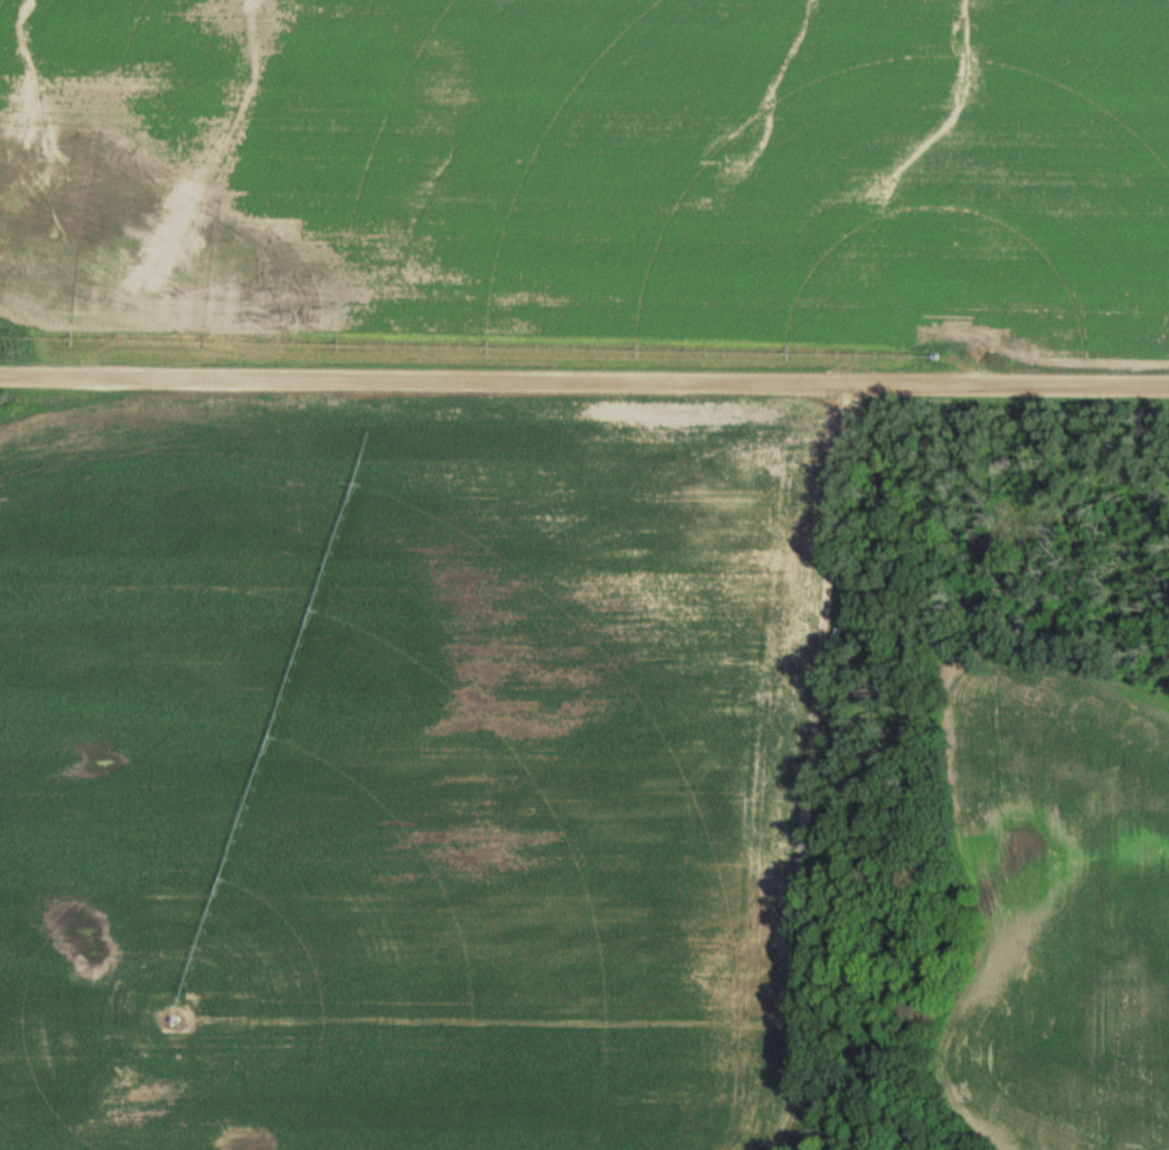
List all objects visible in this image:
road: (583, 380)

